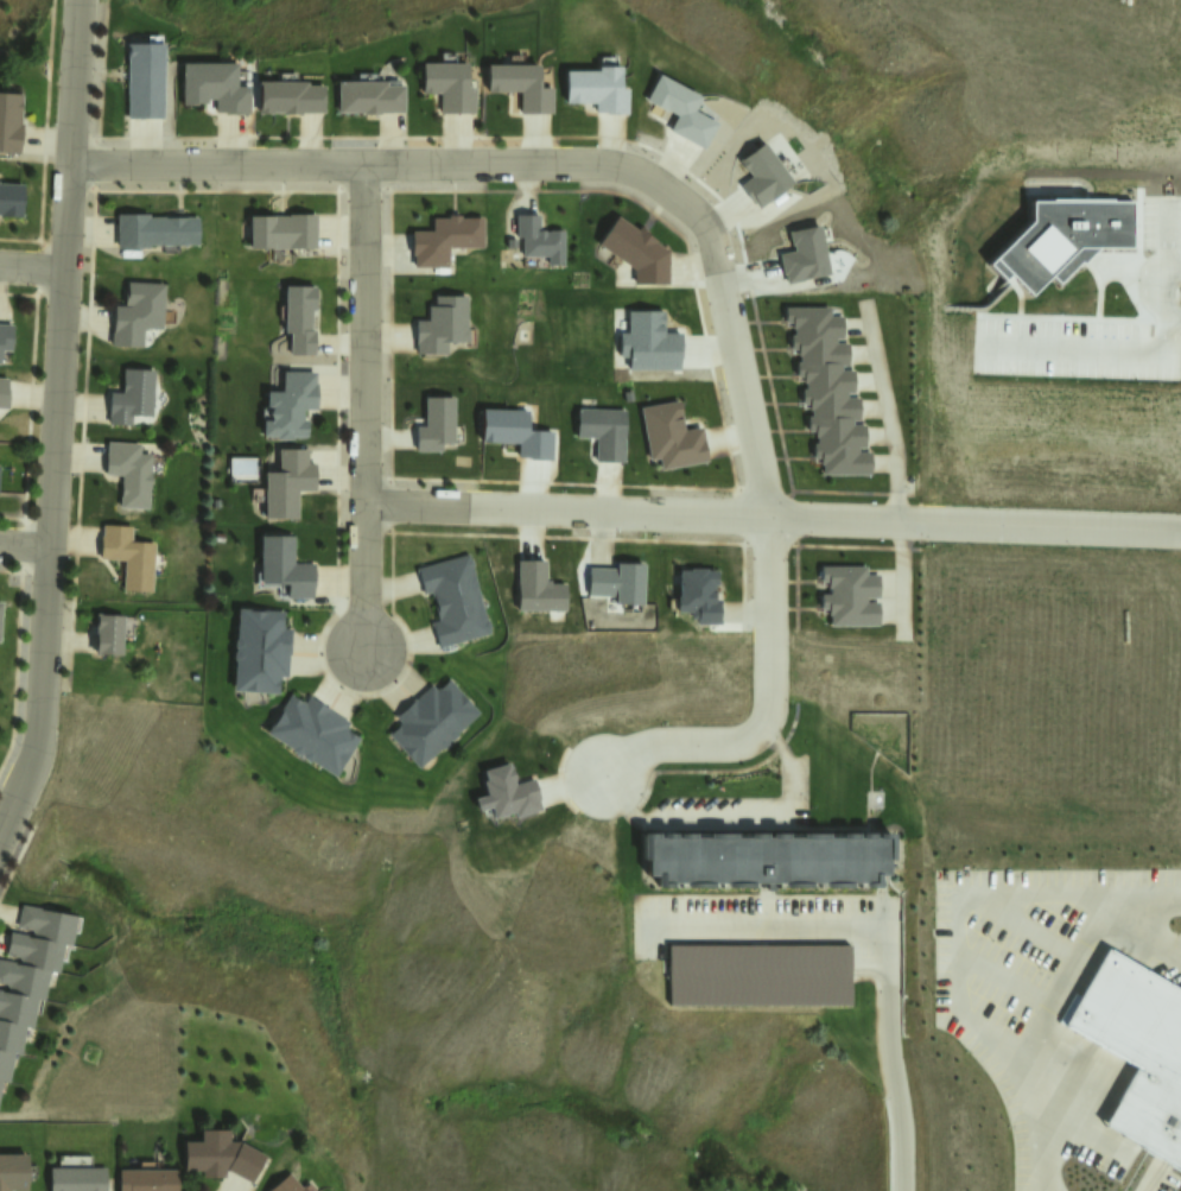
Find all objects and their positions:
road: (76, 76)
building: (146, 83)
building: (519, 83)
building: (212, 84)
building: (447, 84)
building: (596, 88)
building: (288, 96)
building: (367, 96)
building: (679, 108)
building: (12, 126)
building: (764, 180)
building: (12, 201)
building: (152, 228)
building: (280, 229)
building: (443, 236)
building: (538, 239)
road: (709, 240)
building: (635, 251)
road: (32, 271)
building: (136, 308)
building: (298, 317)
building: (439, 325)
building: (5, 335)
building: (826, 391)
building: (2, 392)
building: (129, 395)
building: (288, 405)
road: (362, 405)
building: (433, 423)
building: (605, 432)
building: (673, 441)
building: (128, 473)
building: (286, 482)
road: (50, 489)
road: (772, 517)
road: (23, 543)
building: (127, 555)
building: (284, 564)
building: (536, 582)
building: (621, 585)
building: (696, 593)
building: (453, 598)
building: (851, 601)
building: (0, 607)
building: (107, 633)
building: (258, 648)
building: (430, 718)
building: (311, 731)
building: (509, 796)
building: (766, 857)
road: (758, 920)
parking lot: (1173, 954)
building: (27, 969)
building: (757, 974)
building: (1138, 1053)
road: (889, 1056)
building: (224, 1161)
building: (15, 1173)
building: (78, 1180)
building: (147, 1182)
building: (288, 1185)
building: (310, 1189)

